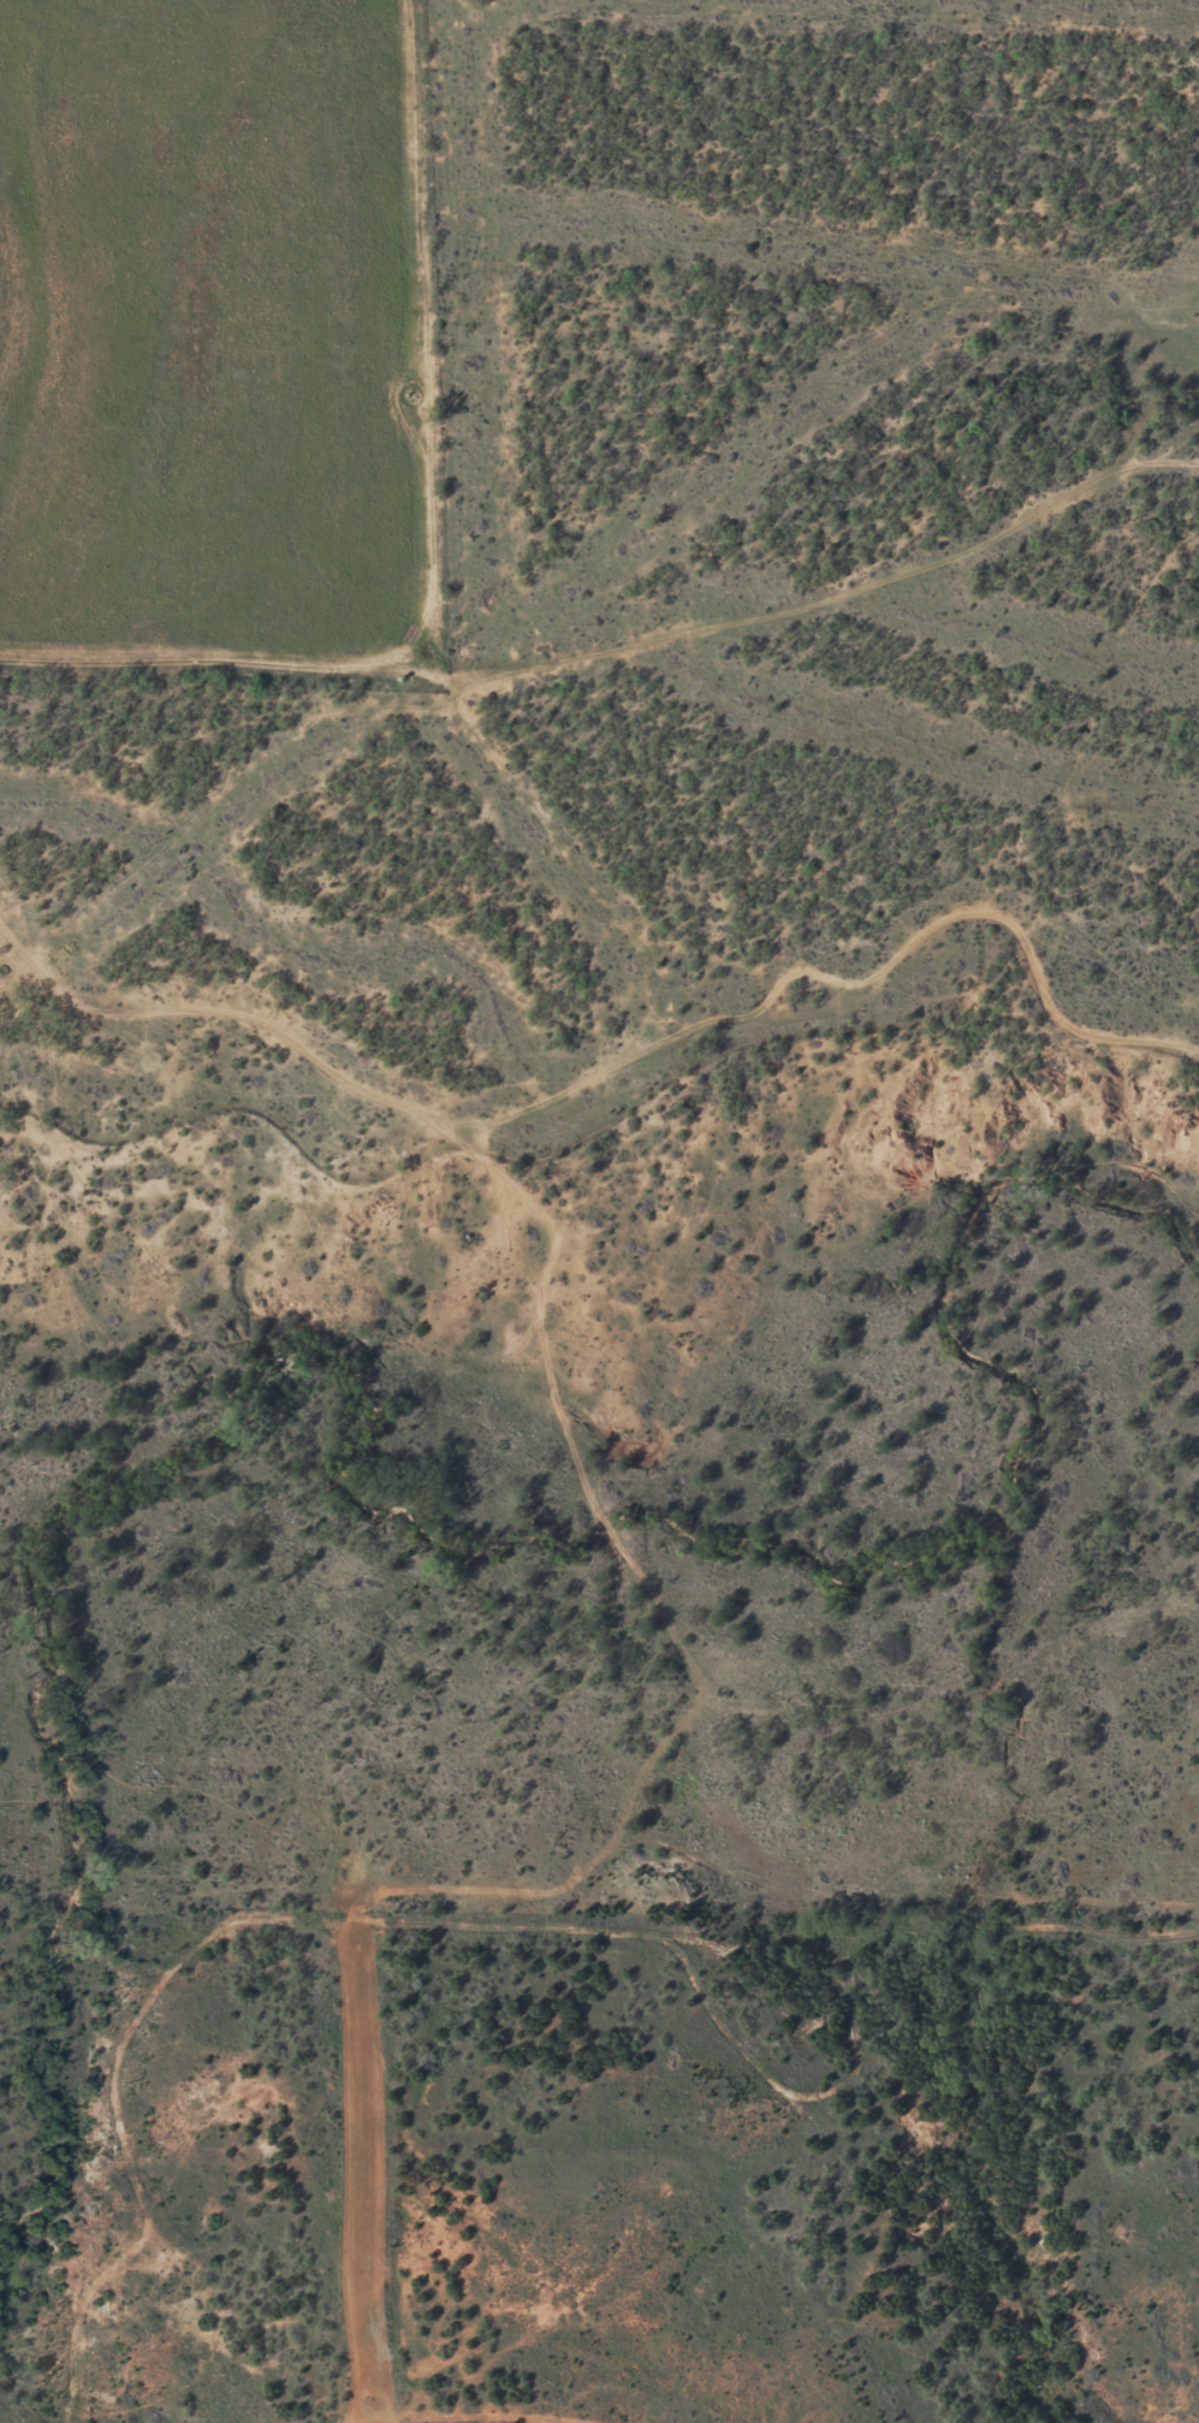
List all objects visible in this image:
road: (610, 647)

